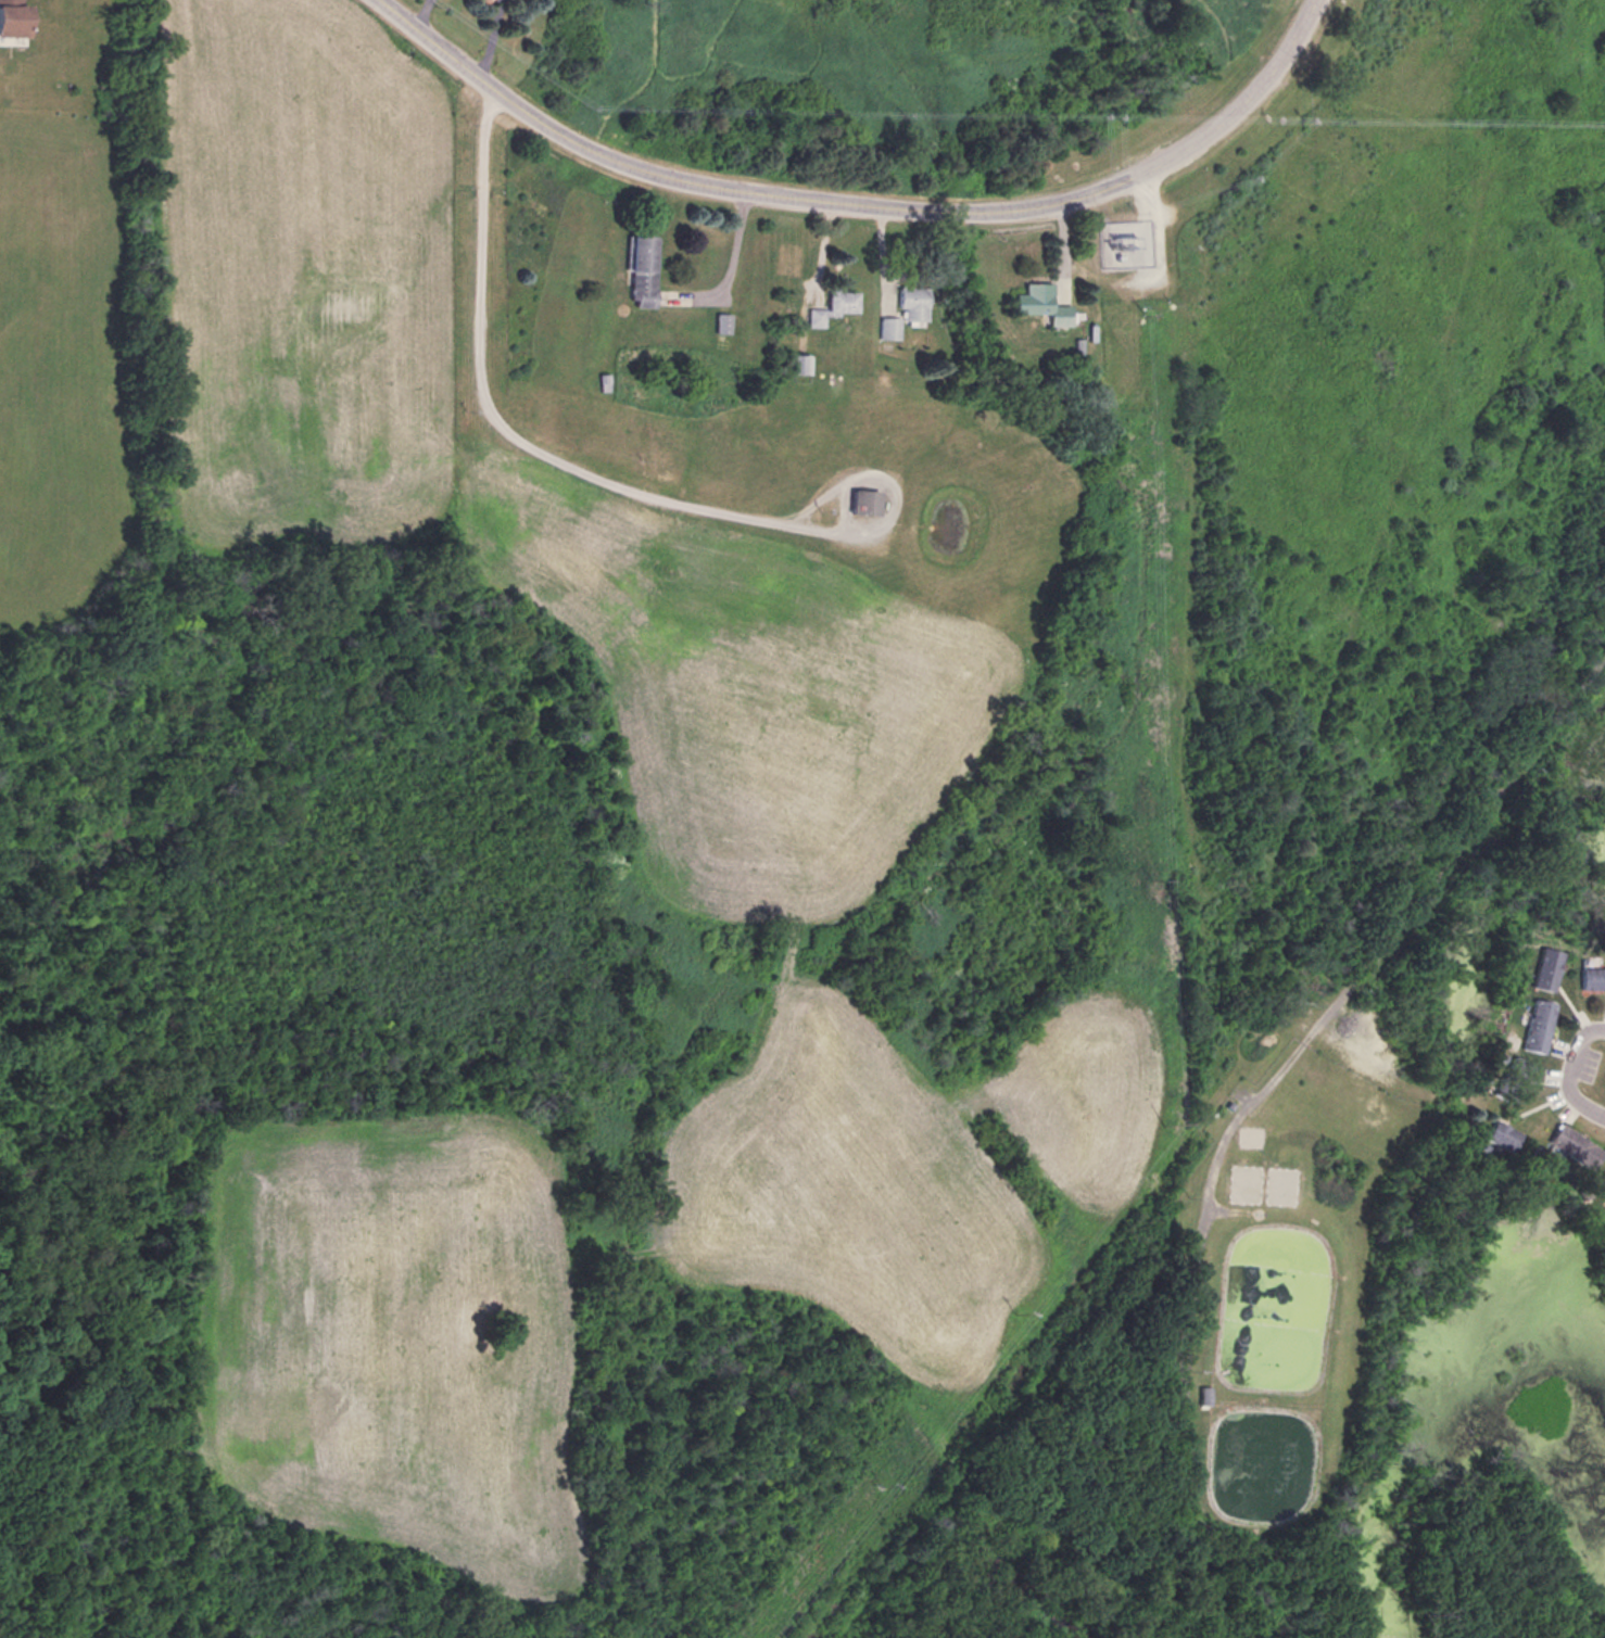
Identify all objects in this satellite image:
building: (12, 18)
road: (1243, 100)
road: (741, 187)
road: (724, 265)
building: (634, 267)
building: (1033, 302)
building: (830, 306)
building: (901, 310)
building: (717, 322)
building: (795, 364)
building: (597, 383)
road: (498, 424)
building: (856, 501)
building: (1541, 969)
building: (1590, 977)
building: (1532, 1026)
road: (1566, 1070)
building: (1507, 1080)
building: (1570, 1145)
building: (1601, 1184)
building: (1198, 1395)

